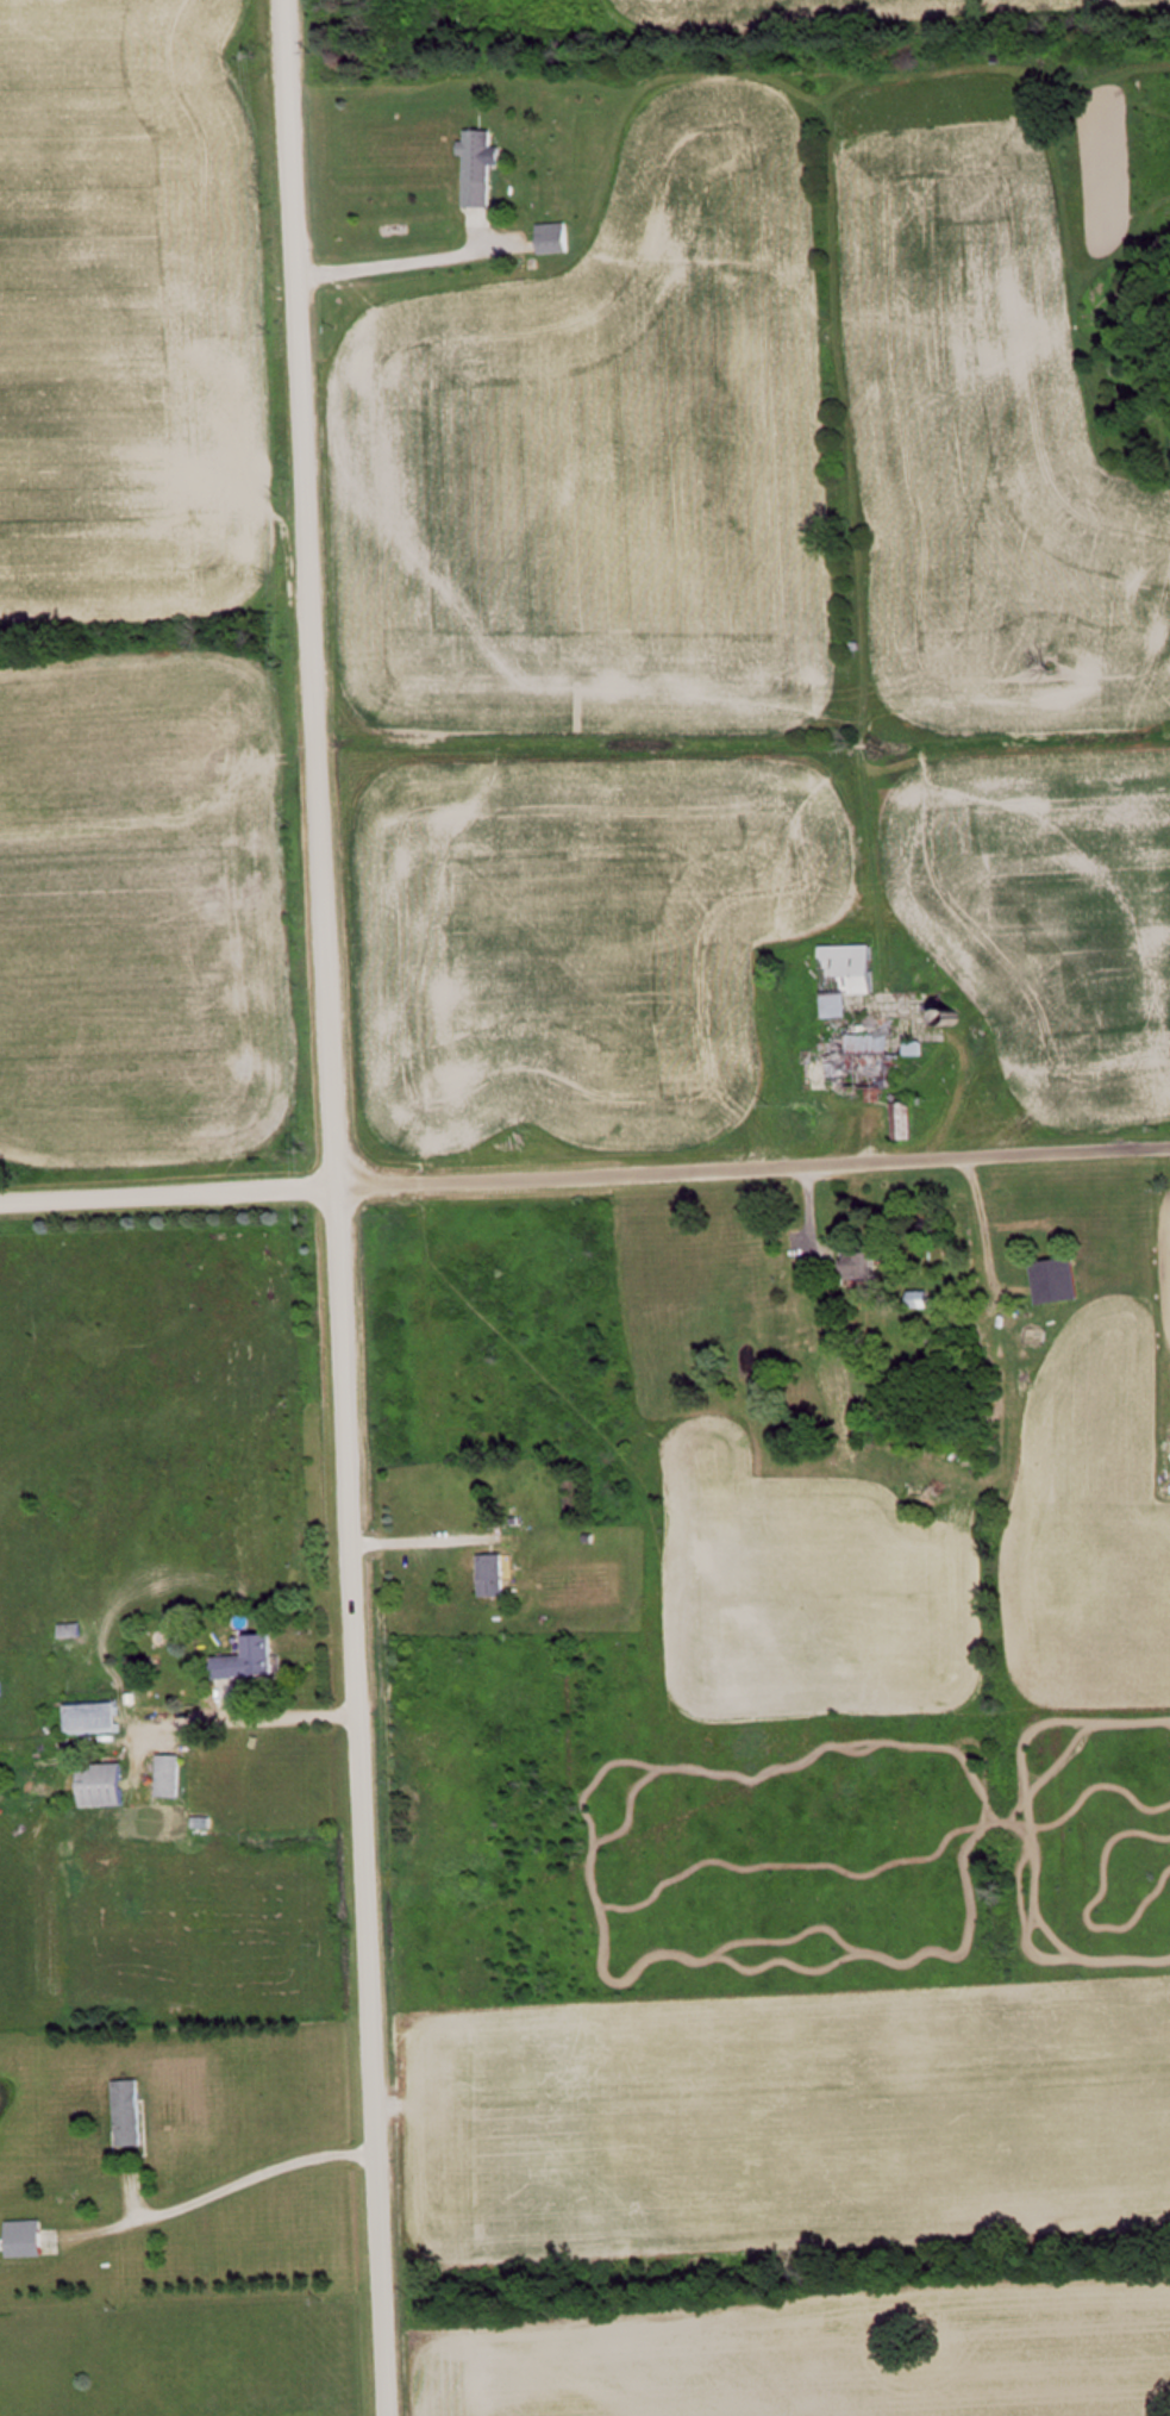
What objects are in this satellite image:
building: (483, 167)
building: (557, 237)
building: (843, 1012)
building: (907, 1119)
road: (584, 1173)
road: (337, 1207)
building: (866, 1263)
building: (1060, 1279)
building: (494, 1575)
building: (75, 1629)
building: (256, 1661)
building: (2, 1687)
building: (101, 1717)
building: (174, 1775)
building: (111, 1785)
building: (133, 2117)
building: (31, 2239)

